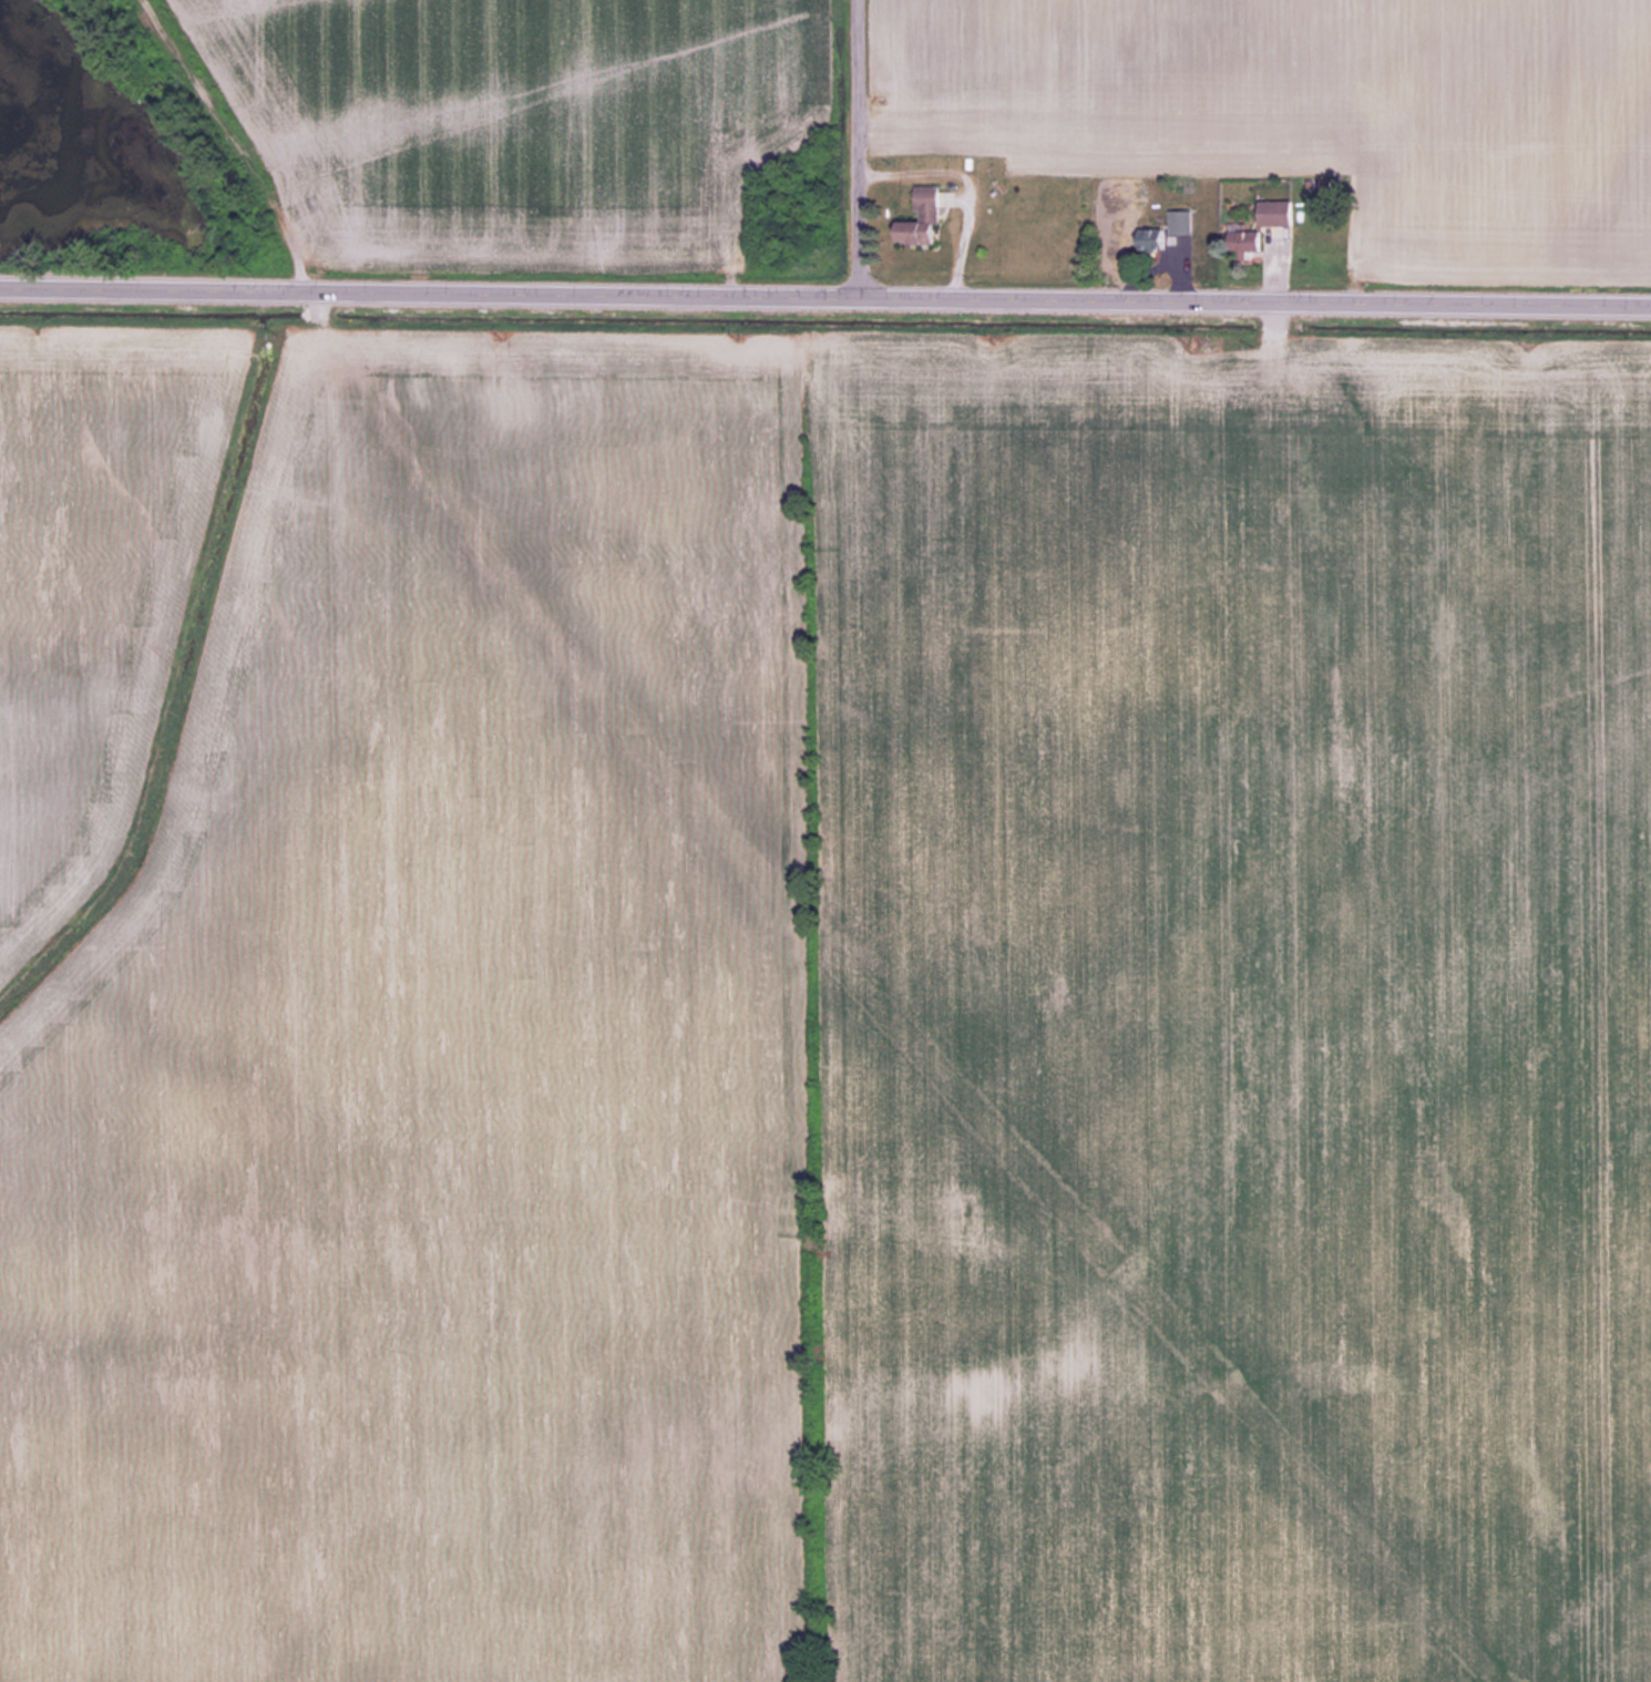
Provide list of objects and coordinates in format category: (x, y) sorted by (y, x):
road: (852, 147)
building: (1275, 213)
building: (923, 218)
building: (1179, 222)
building: (1150, 239)
building: (1244, 240)
road: (824, 295)

